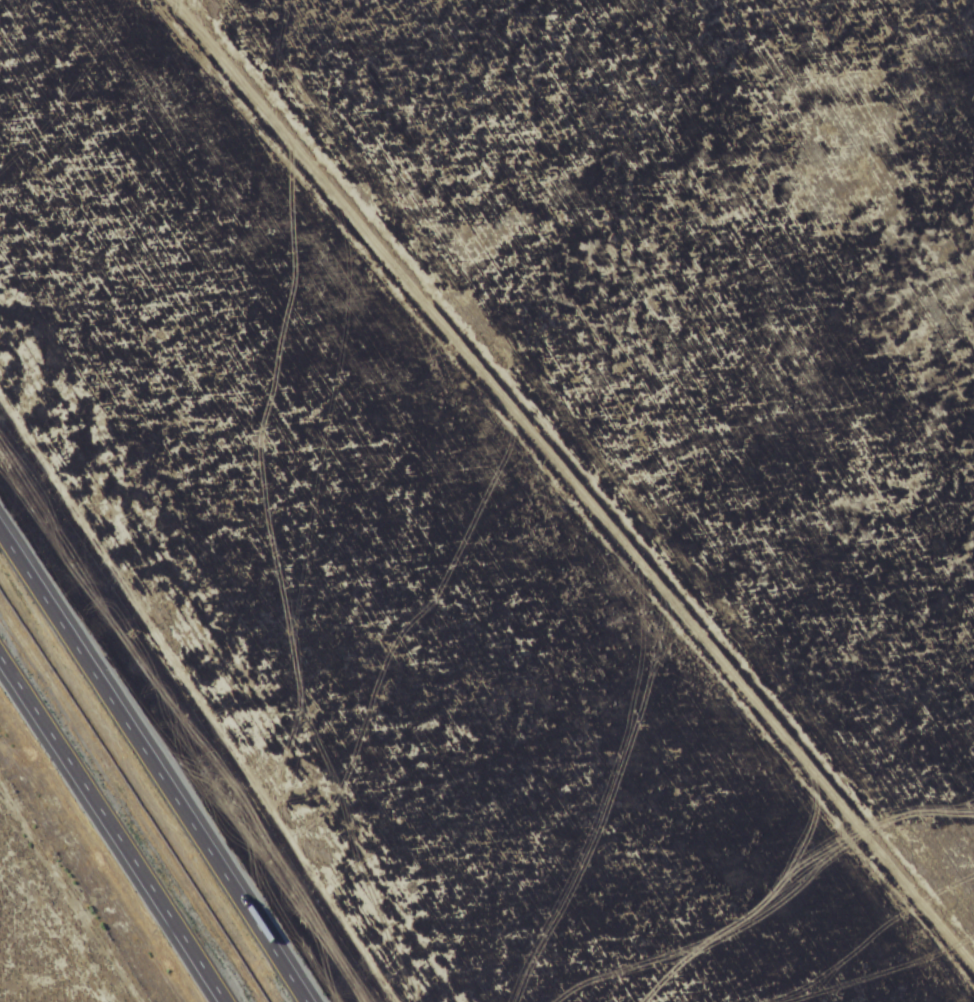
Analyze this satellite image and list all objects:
road: (560, 500)
road: (152, 767)
road: (114, 828)

